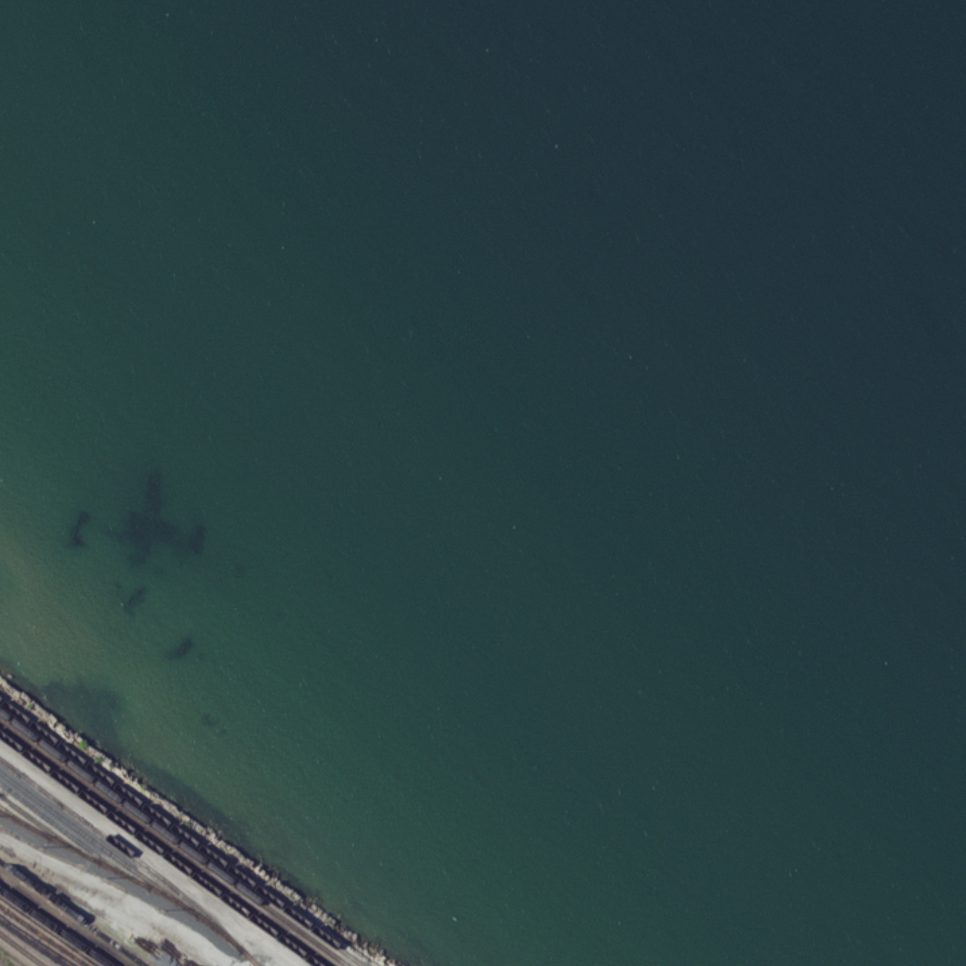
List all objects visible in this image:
railway: (24, 821)
railway: (48, 830)
railway: (180, 834)
railway: (72, 836)
railway: (173, 840)
railway: (166, 845)
railway: (158, 850)
road: (149, 855)
railway: (133, 857)
railway: (121, 860)
railway: (99, 862)
railway: (72, 913)
railway: (55, 927)
railway: (44, 935)
railway: (33, 943)
railway: (22, 949)

